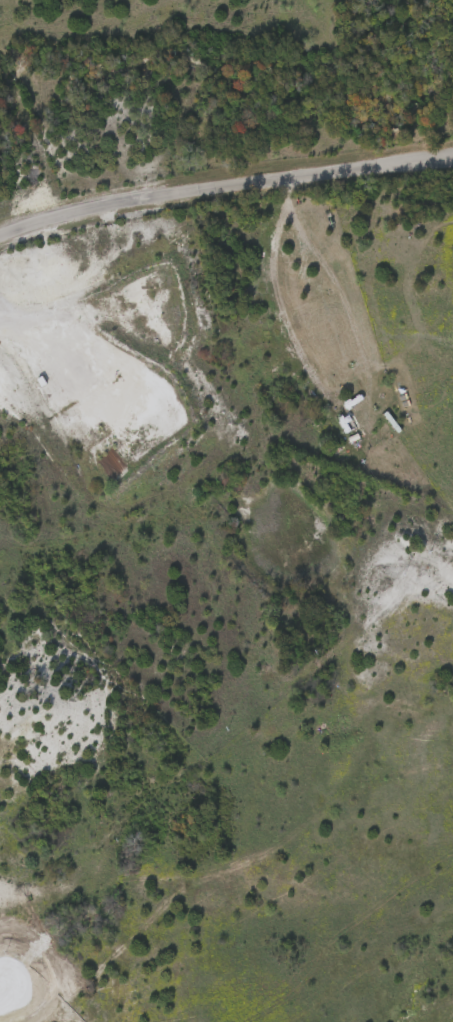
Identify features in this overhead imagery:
road: (225, 183)
road: (4, 994)

